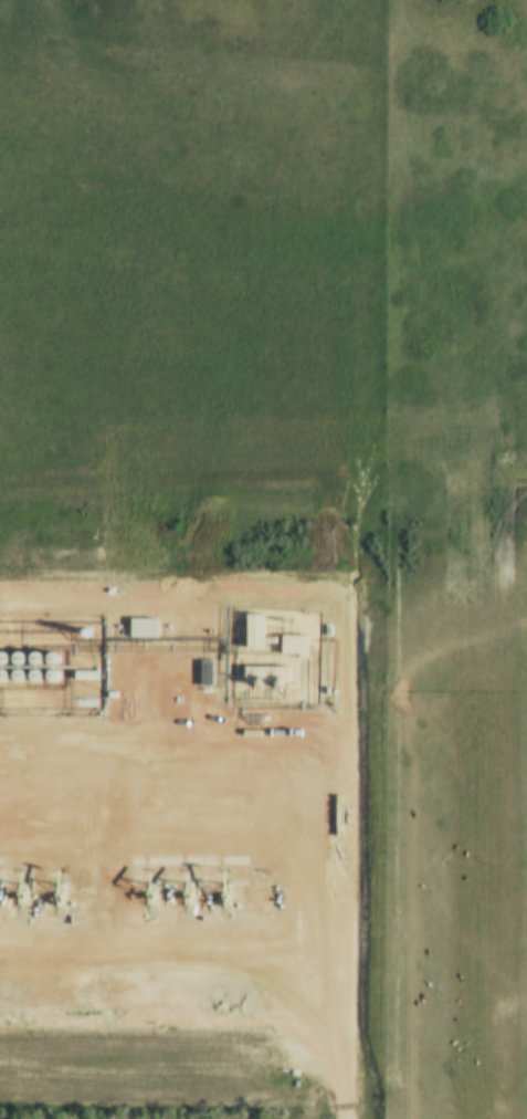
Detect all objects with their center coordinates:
road: (446, 652)
road: (403, 916)
quarry: (49, 928)

